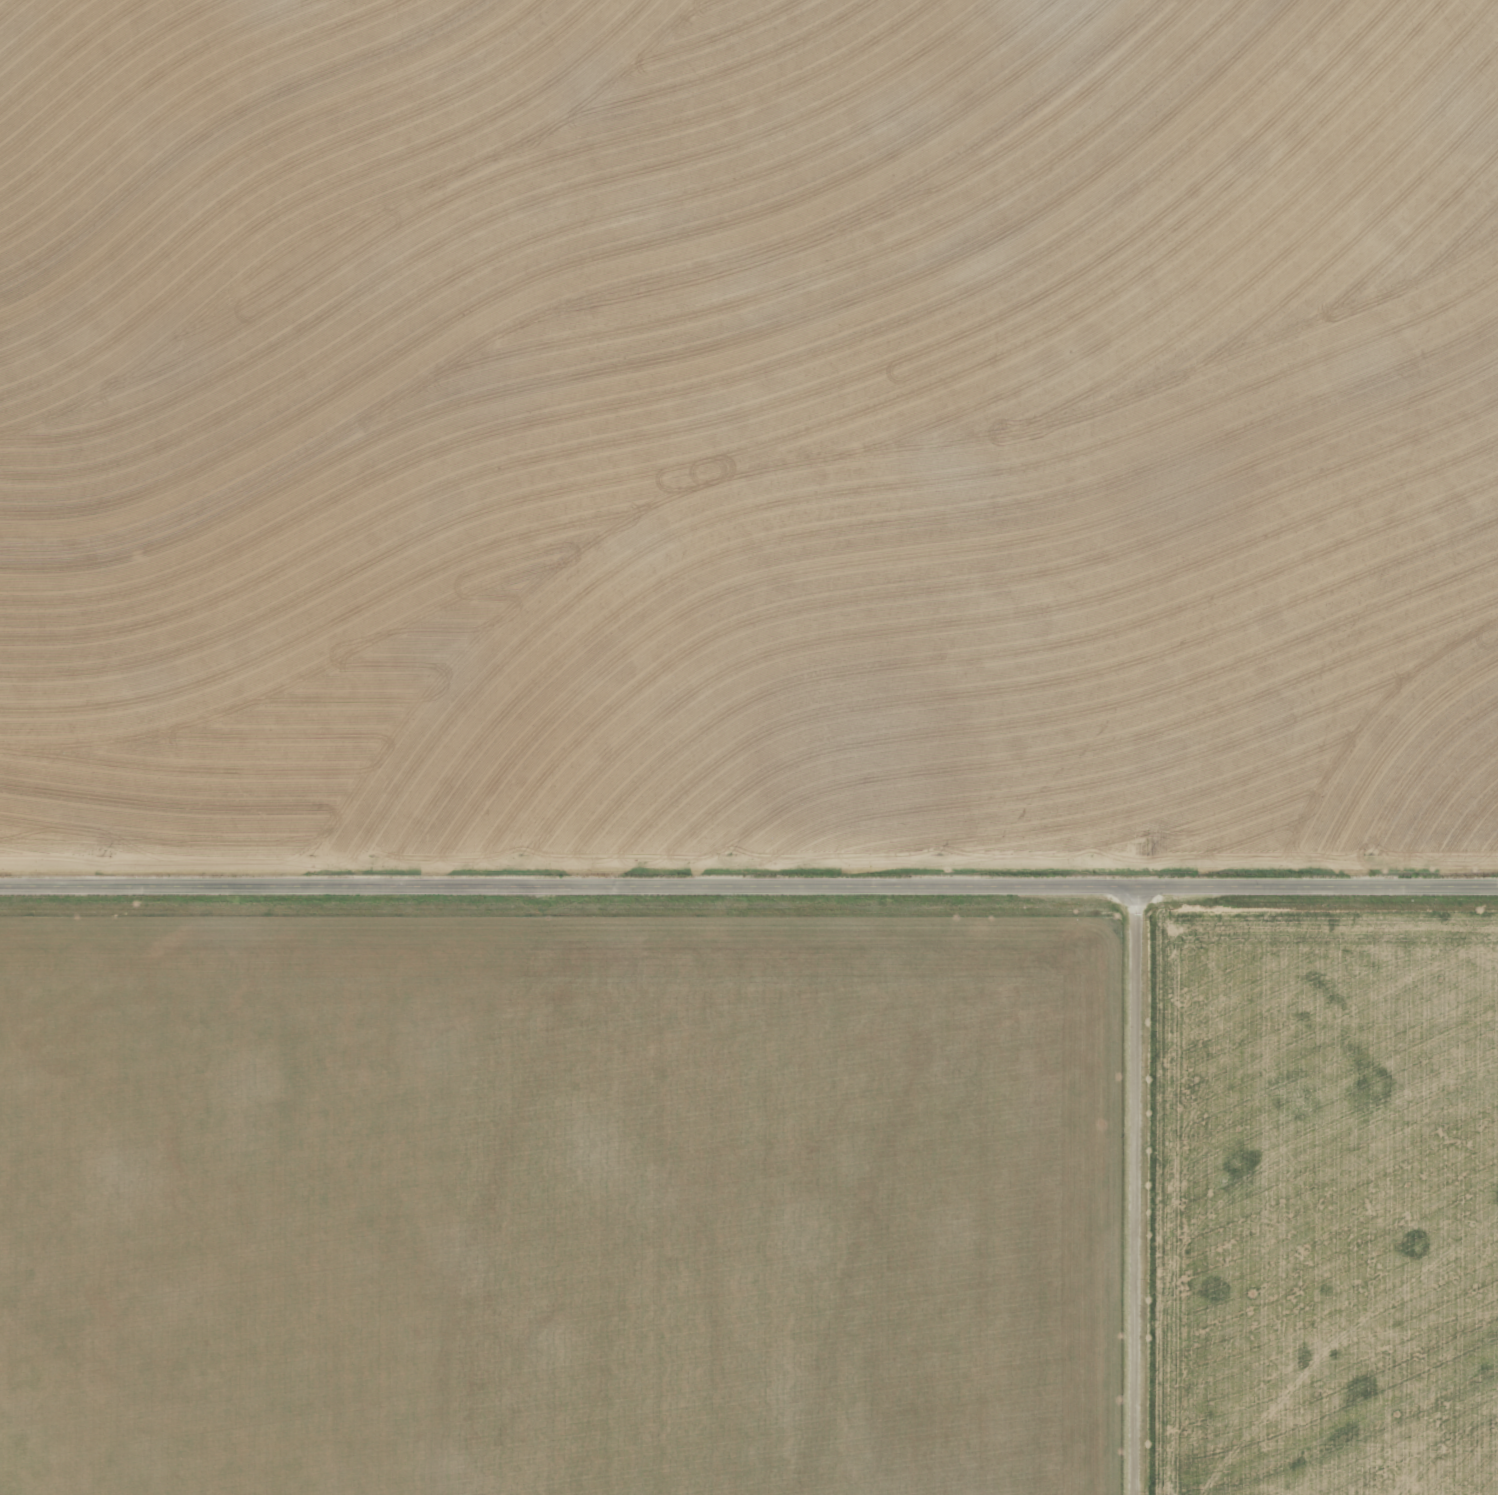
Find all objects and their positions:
road: (749, 887)
road: (1164, 1180)

